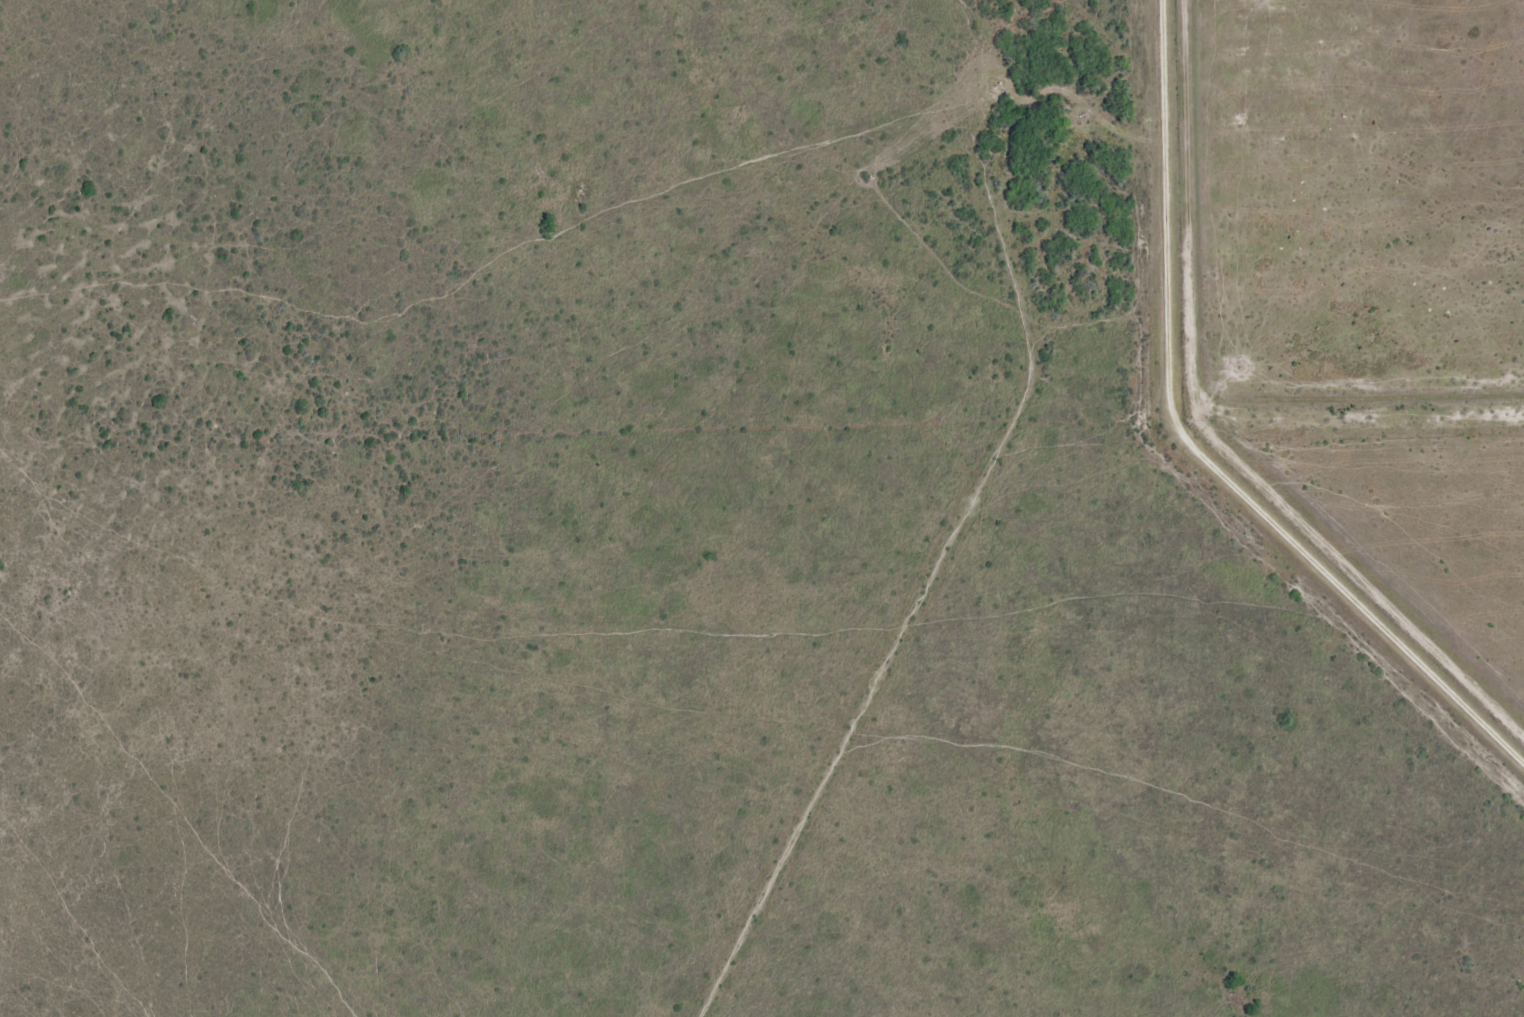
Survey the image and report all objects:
road: (1195, 449)

